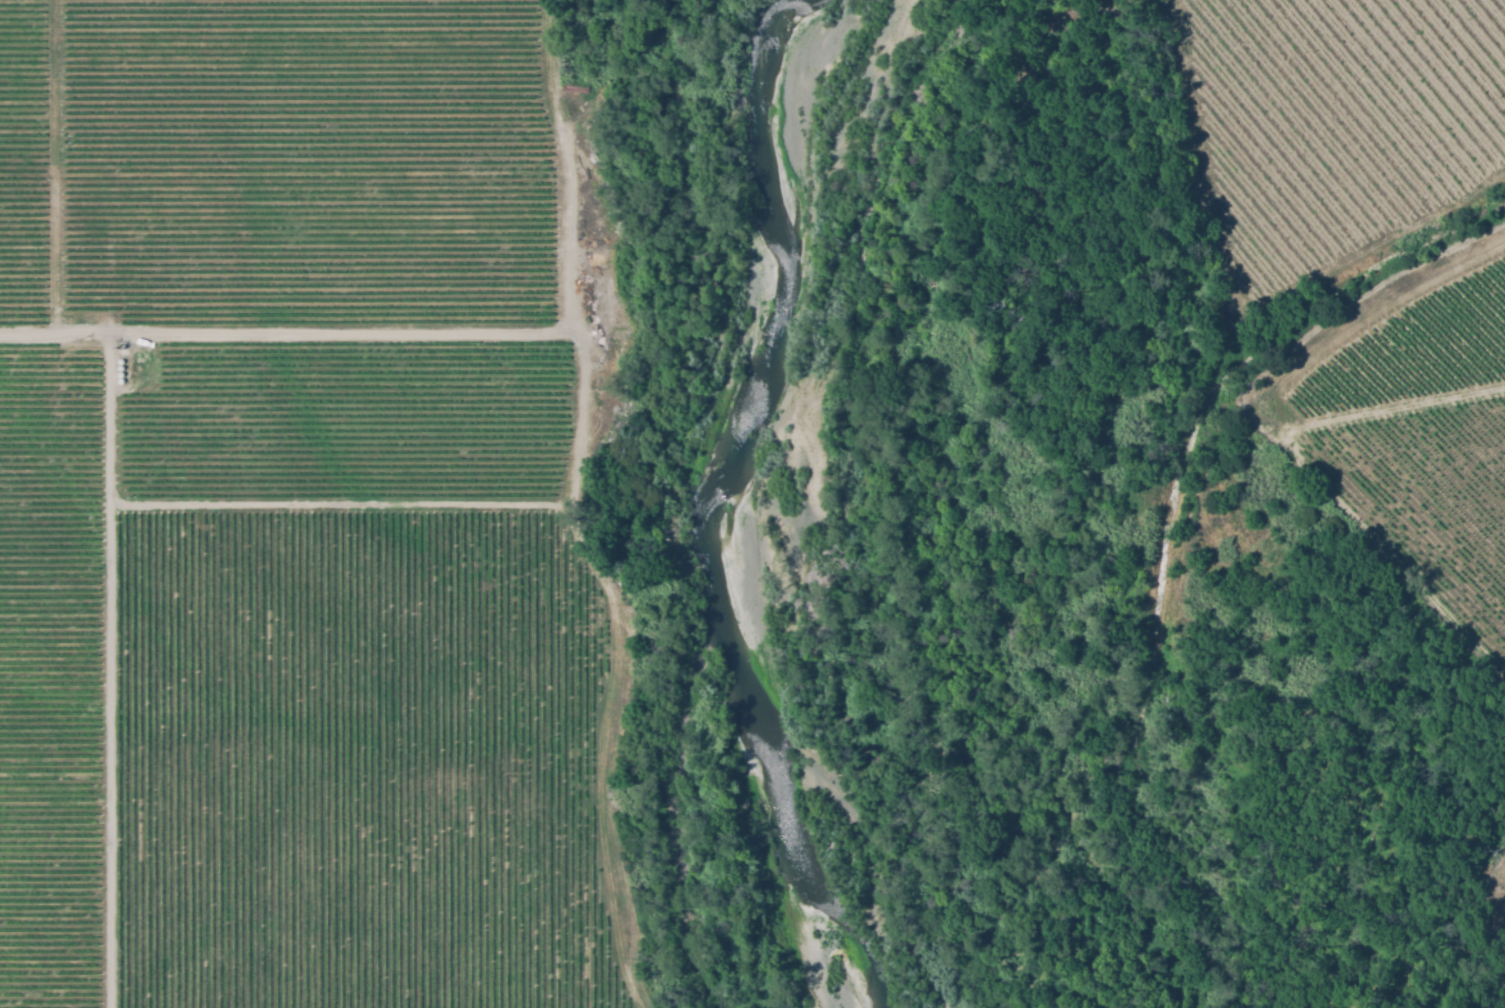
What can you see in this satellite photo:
road: (567, 164)
road: (284, 329)
river: (697, 496)
road: (108, 668)

